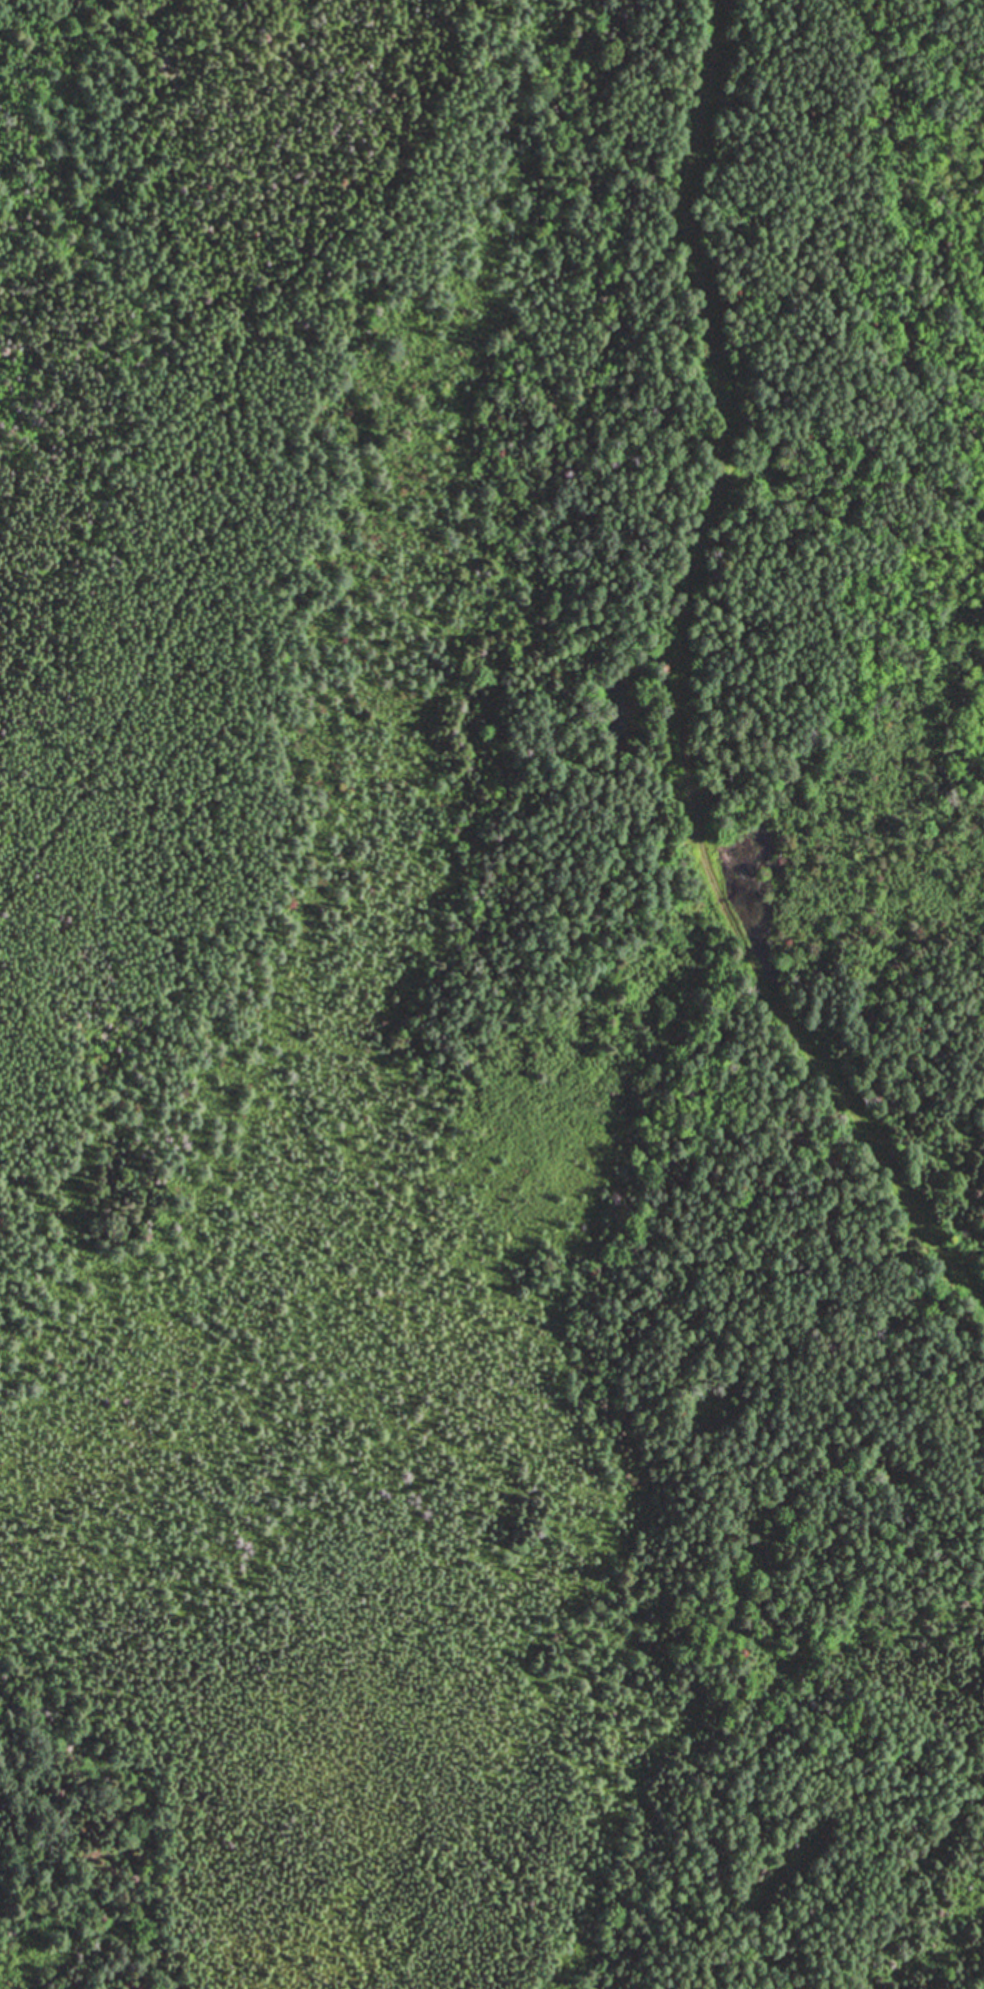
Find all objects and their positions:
road: (675, 688)

